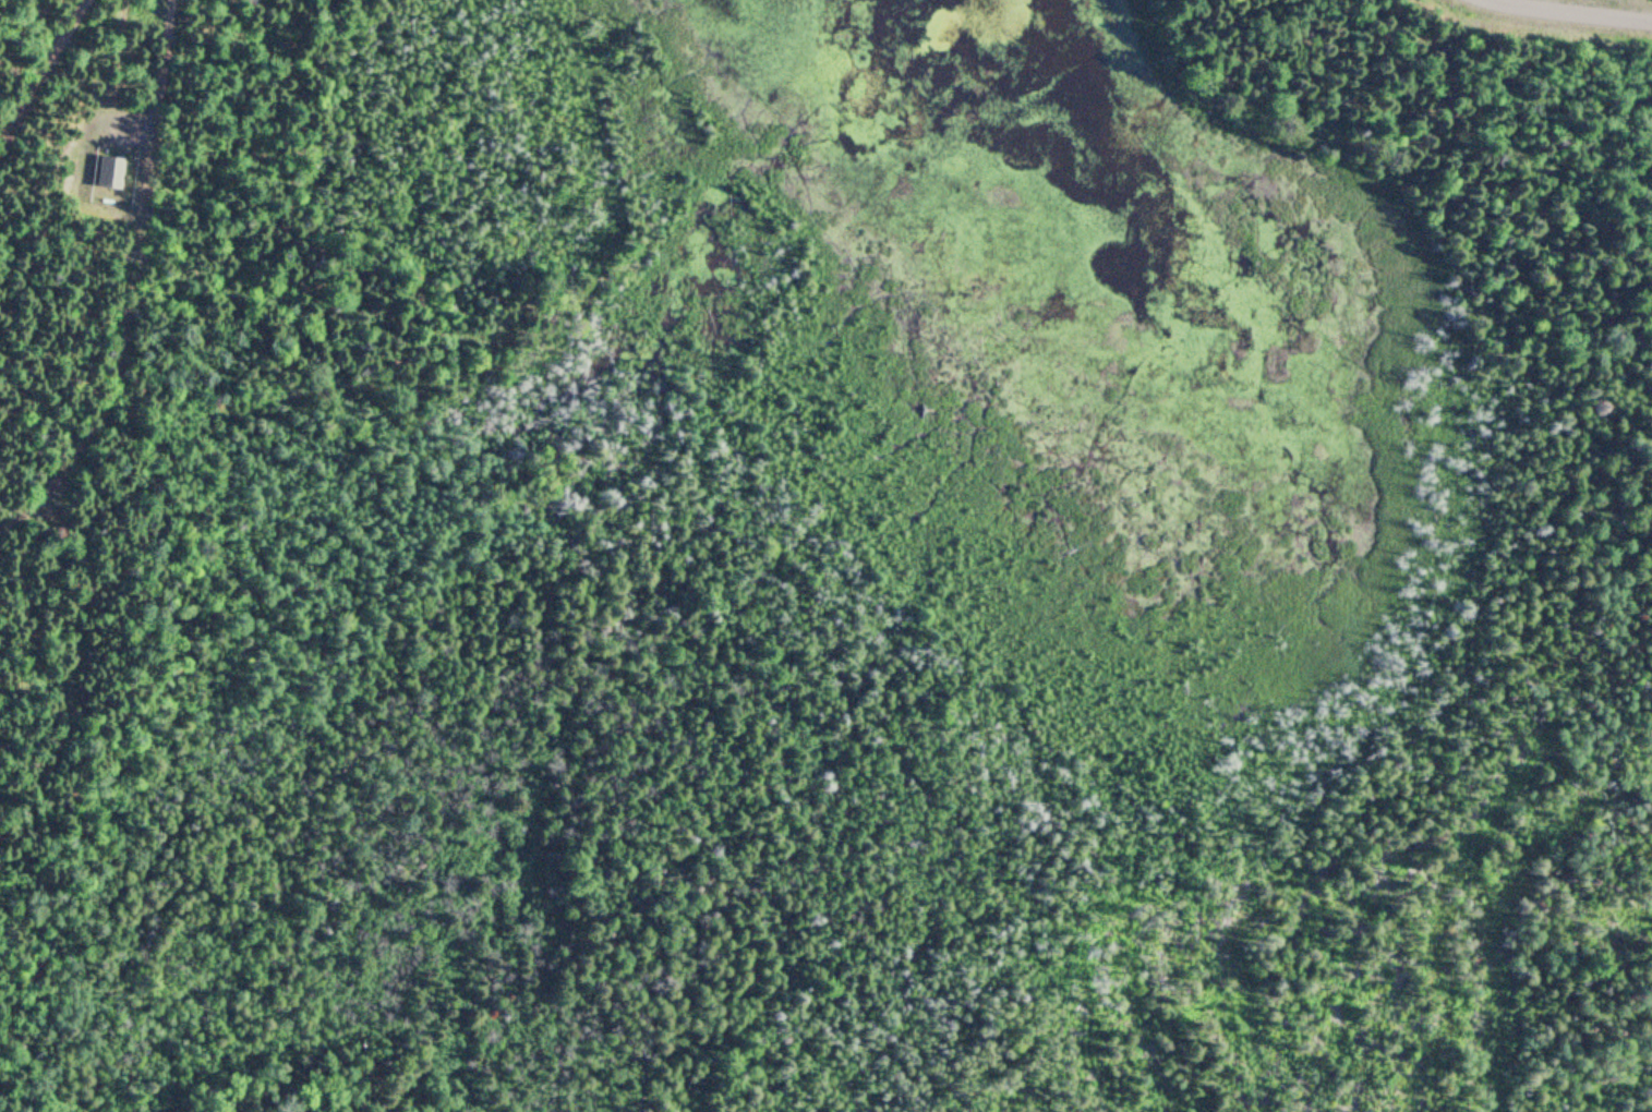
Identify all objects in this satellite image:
road: (1575, 12)
road: (41, 69)
road: (128, 276)

